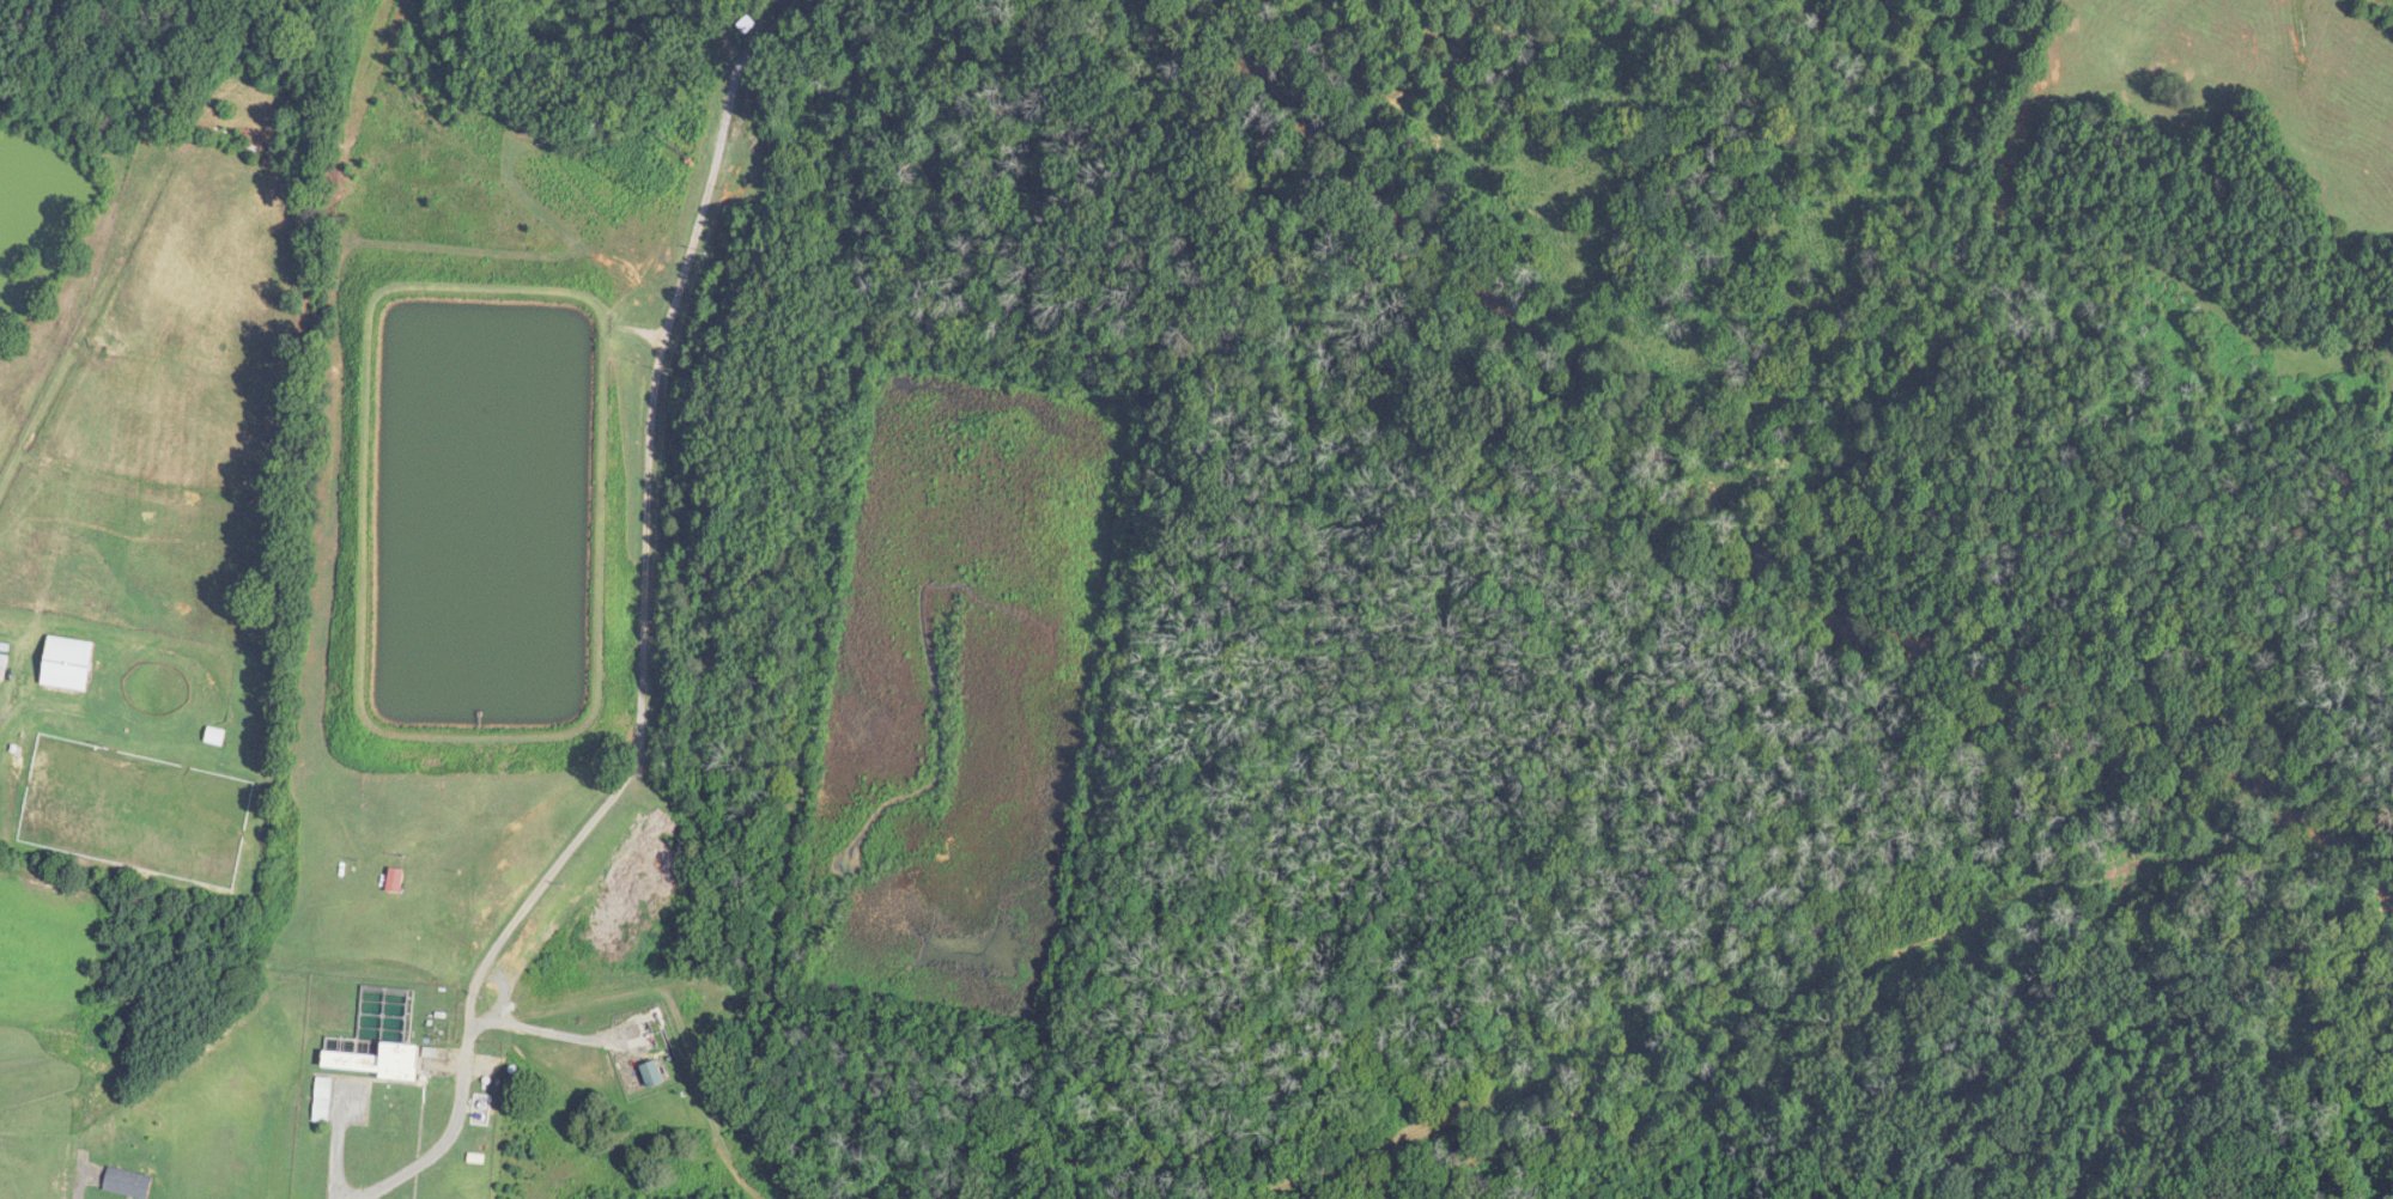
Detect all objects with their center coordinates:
road: (645, 634)
building: (67, 663)
road: (7, 704)
building: (215, 736)
building: (395, 880)
building: (381, 1061)
building: (652, 1075)
building: (322, 1104)
building: (128, 1183)

